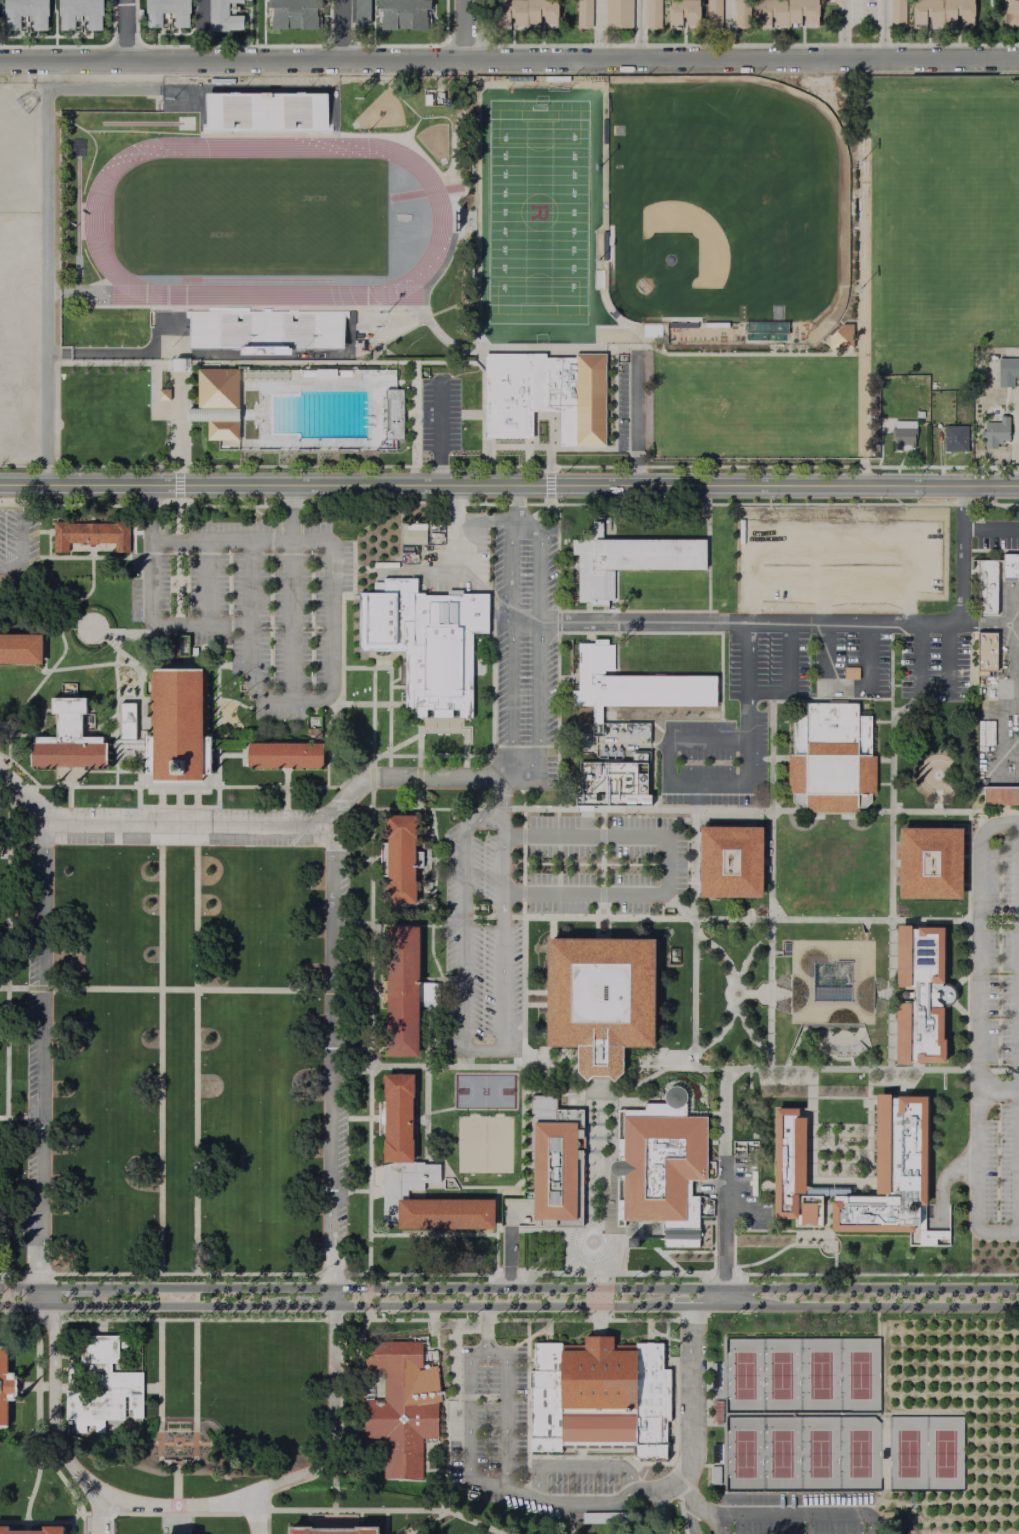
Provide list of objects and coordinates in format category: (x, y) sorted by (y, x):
building: (361, 11)
building: (290, 12)
building: (708, 12)
building: (779, 12)
building: (937, 12)
building: (1008, 12)
building: (401, 13)
building: (894, 13)
building: (583, 14)
building: (741, 14)
building: (618, 15)
building: (652, 15)
building: (220, 16)
building: (680, 16)
building: (179, 17)
building: (524, 17)
building: (9, 21)
building: (63, 21)
road: (125, 31)
road: (845, 31)
road: (883, 31)
road: (342, 32)
road: (463, 32)
road: (643, 32)
road: (509, 64)
building: (265, 112)
road: (46, 119)
road: (403, 142)
park: (19, 145)
park: (536, 212)
park: (721, 213)
park: (265, 216)
park: (944, 219)
track: (91, 221)
building: (603, 246)
road: (73, 292)
building: (682, 325)
building: (263, 329)
road: (863, 335)
parking lot: (18, 337)
building: (840, 337)
road: (19, 338)
road: (514, 350)
road: (23, 353)
road: (113, 353)
road: (331, 362)
road: (66, 363)
building: (1006, 370)
building: (217, 388)
road: (179, 389)
road: (483, 394)
building: (163, 395)
building: (571, 395)
building: (507, 396)
road: (153, 402)
park: (753, 407)
building: (212, 414)
building: (394, 414)
building: (383, 415)
road: (415, 415)
parking lot: (440, 415)
road: (472, 415)
road: (550, 421)
road: (637, 421)
building: (222, 430)
building: (992, 431)
building: (897, 432)
road: (440, 433)
building: (952, 436)
road: (1015, 442)
road: (588, 448)
road: (509, 467)
road: (509, 485)
road: (549, 486)
road: (179, 489)
road: (515, 501)
road: (507, 504)
road: (90, 514)
road: (152, 515)
road: (484, 517)
road: (454, 523)
road: (989, 530)
road: (132, 532)
building: (91, 534)
building: (413, 534)
road: (21, 536)
parking lot: (19, 543)
road: (194, 545)
road: (90, 550)
road: (556, 554)
road: (111, 558)
building: (628, 559)
parking lot: (838, 561)
road: (178, 569)
building: (993, 581)
road: (206, 587)
road: (249, 587)
road: (292, 594)
parking lot: (251, 605)
road: (684, 611)
building: (383, 614)
road: (342, 619)
road: (556, 622)
road: (804, 625)
road: (986, 626)
road: (680, 633)
road: (59, 635)
road: (1015, 645)
road: (113, 647)
road: (825, 648)
building: (20, 649)
road: (147, 652)
building: (440, 652)
building: (985, 652)
parking lot: (524, 655)
road: (393, 656)
road: (868, 658)
road: (382, 659)
road: (366, 670)
road: (217, 674)
road: (399, 674)
building: (850, 674)
road: (788, 679)
building: (633, 684)
road: (396, 688)
road: (933, 691)
road: (126, 700)
road: (234, 702)
road: (367, 705)
parking lot: (751, 711)
road: (372, 718)
road: (389, 718)
road: (556, 721)
building: (126, 722)
road: (115, 724)
building: (177, 727)
road: (999, 727)
road: (441, 730)
building: (636, 730)
building: (984, 735)
road: (493, 739)
building: (68, 740)
building: (126, 743)
road: (326, 744)
road: (394, 747)
road: (232, 755)
building: (285, 756)
road: (355, 756)
building: (830, 757)
road: (137, 761)
road: (18, 769)
road: (126, 772)
road: (354, 773)
road: (418, 777)
road: (371, 778)
road: (528, 778)
road: (891, 778)
road: (405, 779)
road: (8, 781)
building: (612, 784)
road: (22, 786)
road: (723, 786)
road: (68, 787)
road: (236, 787)
road: (286, 788)
road: (502, 790)
road: (25, 794)
road: (159, 796)
road: (177, 796)
road: (195, 796)
building: (1000, 797)
road: (418, 799)
road: (4, 802)
road: (176, 806)
road: (415, 809)
road: (496, 809)
road: (524, 809)
road: (765, 811)
road: (770, 812)
road: (603, 819)
road: (187, 825)
parking lot: (186, 827)
road: (524, 836)
road: (602, 838)
road: (12, 854)
road: (364, 858)
building: (399, 859)
building: (730, 861)
road: (669, 863)
building: (929, 863)
road: (523, 865)
road: (590, 865)
road: (602, 866)
road: (676, 866)
road: (434, 867)
road: (524, 894)
road: (602, 895)
parking lot: (537, 904)
road: (679, 905)
road: (602, 911)
road: (481, 917)
road: (501, 917)
road: (456, 920)
road: (738, 920)
road: (359, 923)
road: (406, 925)
road: (694, 940)
road: (966, 943)
road: (721, 956)
road: (748, 958)
building: (800, 982)
road: (193, 989)
building: (403, 992)
building: (919, 993)
road: (756, 994)
road: (770, 995)
road: (890, 995)
road: (730, 998)
road: (443, 999)
building: (600, 999)
road: (747, 1030)
road: (721, 1033)
road: (975, 1033)
parking lot: (997, 1036)
road: (6, 1038)
road: (369, 1039)
road: (524, 1046)
road: (358, 1048)
road: (159, 1049)
road: (196, 1050)
road: (472, 1051)
road: (331, 1057)
road: (40, 1065)
road: (658, 1070)
road: (997, 1090)
park: (484, 1091)
road: (1017, 1117)
road: (12, 1118)
road: (362, 1118)
road: (427, 1120)
park: (485, 1145)
building: (553, 1160)
building: (662, 1167)
building: (791, 1169)
building: (416, 1170)
building: (890, 1171)
road: (838, 1181)
road: (479, 1187)
road: (724, 1187)
road: (365, 1191)
road: (11, 1207)
road: (826, 1207)
road: (596, 1214)
road: (496, 1231)
road: (820, 1232)
road: (432, 1235)
fountain: (590, 1243)
road: (545, 1252)
road: (581, 1256)
road: (833, 1256)
road: (510, 1257)
road: (184, 1274)
road: (18, 1275)
road: (527, 1275)
road: (871, 1275)
road: (67, 1287)
traffic signals: (4, 1288)
road: (20, 1288)
road: (556, 1289)
traffic signals: (597, 1289)
road: (4, 1297)
road: (368, 1297)
road: (597, 1298)
traffic signals: (4, 1305)
road: (141, 1305)
road: (308, 1305)
road: (498, 1306)
traffic signals: (597, 1306)
road: (694, 1306)
road: (871, 1306)
road: (4, 1317)
road: (368, 1317)
road: (242, 1321)
road: (587, 1322)
road: (98, 1328)
road: (597, 1329)
road: (484, 1330)
road: (547, 1332)
road: (647, 1332)
road: (160, 1371)
road: (196, 1371)
park: (858, 1375)
park: (742, 1376)
park: (779, 1376)
park: (819, 1376)
building: (5, 1386)
road: (27, 1386)
building: (102, 1386)
road: (338, 1388)
road: (690, 1393)
building: (598, 1395)
road: (453, 1404)
building: (400, 1406)
parking lot: (492, 1406)
building: (715, 1411)
road: (502, 1412)
road: (468, 1426)
road: (39, 1432)
park: (743, 1454)
park: (779, 1454)
park: (818, 1454)
park: (857, 1454)
park: (906, 1454)
park: (943, 1454)
road: (606, 1457)
road: (178, 1466)
road: (581, 1468)
building: (714, 1475)
road: (676, 1478)
road: (297, 1482)
road: (33, 1487)
road: (179, 1489)
road: (665, 1501)
road: (597, 1502)
road: (197, 1505)
road: (334, 1506)
road: (698, 1506)
road: (691, 1507)
road: (98, 1512)
road: (260, 1512)
road: (385, 1512)
road: (255, 1513)
road: (99, 1514)
road: (166, 1514)
parking lot: (793, 1514)
road: (805, 1514)
road: (680, 1518)
road: (42, 1521)
road: (268, 1523)
road: (385, 1523)
road: (425, 1523)
road: (180, 1524)
road: (722, 1524)
building: (53, 1530)
building: (333, 1530)

